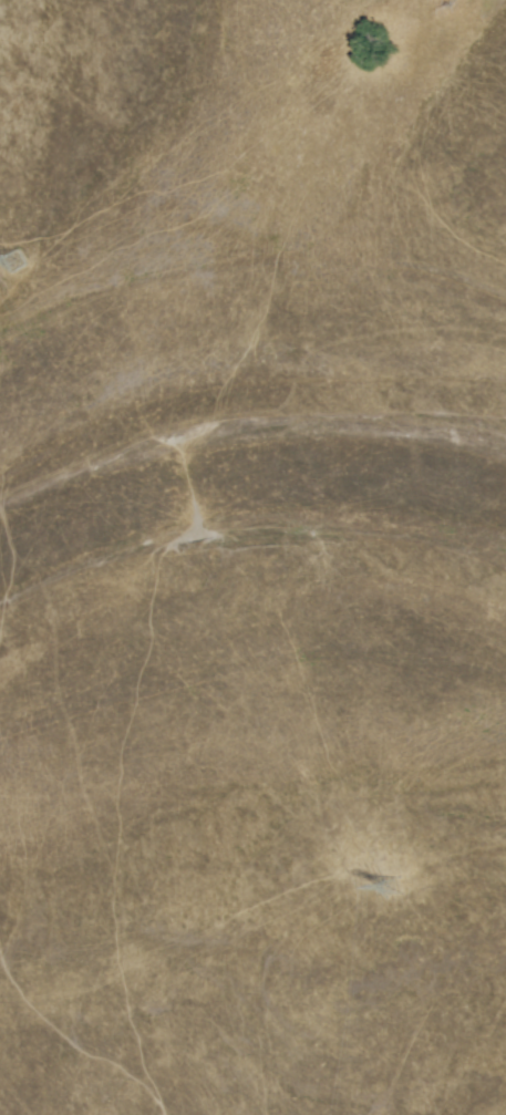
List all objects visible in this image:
building: (13, 261)
power tower: (14, 262)
power tower: (392, 889)

